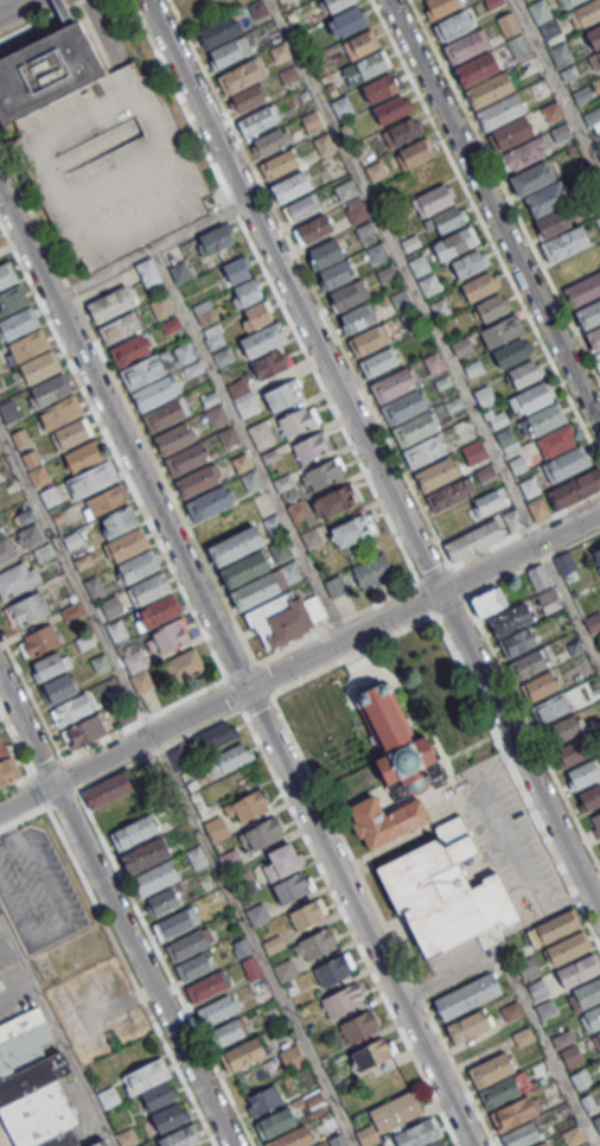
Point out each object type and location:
building: (569, 2)
road: (8, 5)
building: (333, 5)
building: (185, 6)
building: (440, 6)
road: (15, 7)
building: (540, 11)
building: (585, 13)
road: (40, 20)
building: (347, 20)
building: (454, 24)
building: (509, 24)
building: (549, 27)
building: (594, 36)
building: (360, 43)
building: (518, 44)
building: (465, 46)
building: (225, 52)
building: (279, 52)
building: (560, 55)
building: (595, 61)
building: (364, 68)
building: (477, 68)
building: (45, 71)
building: (569, 72)
building: (288, 74)
building: (240, 76)
building: (379, 87)
road: (556, 87)
building: (489, 90)
building: (582, 94)
building: (247, 97)
building: (389, 109)
building: (551, 110)
building: (499, 112)
building: (592, 115)
building: (255, 120)
building: (312, 120)
building: (400, 132)
building: (512, 132)
building: (561, 132)
building: (596, 139)
building: (269, 141)
building: (324, 145)
building: (413, 152)
building: (279, 164)
building: (425, 177)
building: (531, 177)
building: (289, 186)
building: (345, 189)
road: (505, 190)
building: (548, 198)
building: (432, 200)
building: (301, 206)
building: (357, 212)
road: (493, 215)
building: (447, 218)
building: (551, 221)
building: (598, 221)
building: (312, 229)
road: (485, 231)
building: (215, 238)
building: (409, 242)
building: (453, 243)
building: (564, 243)
road: (148, 250)
building: (377, 252)
building: (325, 253)
building: (468, 262)
building: (419, 265)
building: (237, 269)
road: (403, 270)
building: (148, 272)
building: (179, 272)
building: (336, 273)
building: (385, 273)
building: (6, 274)
road: (311, 282)
building: (428, 285)
building: (478, 286)
building: (583, 289)
road: (273, 291)
building: (247, 293)
building: (347, 294)
building: (12, 299)
building: (401, 299)
building: (110, 304)
building: (161, 306)
building: (493, 307)
building: (589, 312)
building: (256, 314)
building: (206, 316)
building: (358, 317)
building: (18, 323)
building: (170, 324)
building: (120, 327)
building: (502, 331)
building: (594, 338)
building: (213, 339)
building: (263, 339)
building: (368, 339)
building: (27, 345)
building: (461, 346)
building: (130, 349)
building: (512, 351)
building: (223, 355)
building: (379, 361)
building: (596, 361)
building: (434, 362)
building: (267, 364)
building: (38, 367)
building: (473, 368)
building: (142, 371)
building: (526, 373)
building: (391, 384)
building: (237, 387)
building: (50, 390)
building: (153, 393)
building: (282, 394)
building: (484, 395)
building: (531, 397)
road: (128, 405)
building: (247, 405)
building: (402, 407)
building: (8, 409)
building: (60, 412)
building: (164, 415)
building: (215, 415)
building: (497, 418)
building: (545, 418)
building: (296, 420)
building: (414, 429)
building: (70, 434)
building: (260, 434)
building: (229, 435)
building: (20, 437)
building: (173, 438)
building: (506, 439)
building: (556, 440)
road: (248, 444)
building: (311, 446)
building: (425, 451)
road: (113, 452)
building: (474, 452)
building: (84, 456)
building: (31, 458)
road: (372, 458)
building: (186, 459)
building: (242, 460)
building: (517, 464)
building: (566, 464)
building: (324, 473)
building: (435, 473)
building: (38, 475)
building: (91, 479)
building: (196, 480)
building: (250, 480)
building: (529, 486)
building: (574, 489)
building: (451, 494)
building: (50, 496)
building: (107, 499)
building: (336, 499)
building: (490, 501)
building: (209, 503)
building: (538, 508)
building: (296, 510)
building: (119, 520)
building: (273, 522)
building: (0, 524)
road: (525, 527)
building: (350, 530)
building: (0, 533)
building: (311, 536)
building: (480, 536)
building: (72, 540)
building: (127, 543)
building: (236, 546)
building: (5, 549)
building: (280, 549)
building: (596, 555)
building: (564, 562)
road: (534, 565)
building: (138, 566)
road: (449, 566)
building: (243, 568)
building: (372, 569)
building: (291, 571)
building: (17, 579)
road: (75, 581)
building: (334, 586)
building: (148, 588)
building: (254, 591)
road: (425, 598)
building: (489, 600)
road: (569, 604)
road: (449, 606)
building: (26, 609)
building: (159, 610)
building: (71, 612)
building: (524, 615)
building: (282, 618)
road: (336, 622)
building: (167, 636)
building: (40, 639)
road: (299, 660)
building: (134, 661)
building: (98, 662)
building: (528, 663)
building: (181, 666)
building: (47, 667)
road: (240, 667)
road: (358, 668)
road: (241, 670)
road: (263, 679)
building: (141, 681)
building: (540, 686)
building: (57, 688)
road: (232, 693)
road: (32, 695)
road: (256, 702)
road: (475, 702)
building: (550, 707)
building: (74, 708)
road: (143, 718)
building: (563, 728)
building: (83, 730)
road: (534, 732)
building: (218, 734)
road: (17, 740)
building: (396, 743)
building: (2, 749)
building: (573, 751)
building: (177, 757)
building: (229, 758)
road: (47, 768)
building: (8, 771)
building: (582, 773)
road: (17, 782)
building: (109, 790)
building: (589, 797)
building: (245, 806)
building: (382, 819)
building: (595, 823)
building: (134, 832)
building: (261, 833)
road: (308, 847)
building: (145, 855)
building: (197, 857)
building: (230, 860)
building: (279, 861)
flagpole: (365, 865)
road: (516, 867)
building: (154, 877)
building: (292, 886)
building: (442, 890)
building: (164, 902)
road: (116, 908)
building: (307, 913)
road: (383, 921)
building: (177, 922)
road: (391, 922)
building: (556, 925)
road: (253, 940)
building: (318, 942)
building: (190, 943)
building: (568, 948)
road: (120, 951)
road: (160, 951)
building: (192, 967)
building: (333, 968)
building: (577, 969)
building: (206, 986)
building: (588, 992)
building: (466, 995)
road: (523, 998)
building: (340, 1000)
building: (545, 1008)
building: (216, 1010)
building: (511, 1011)
building: (593, 1017)
building: (358, 1025)
building: (470, 1025)
building: (228, 1031)
road: (56, 1032)
building: (523, 1036)
building: (598, 1036)
building: (562, 1038)
building: (372, 1052)
building: (243, 1053)
building: (570, 1055)
building: (292, 1057)
building: (491, 1069)
building: (146, 1075)
building: (256, 1075)
building: (580, 1078)
building: (33, 1084)
building: (502, 1090)
building: (159, 1095)
building: (263, 1100)
building: (395, 1110)
building: (513, 1113)
building: (170, 1116)
building: (275, 1122)
building: (596, 1122)
building: (417, 1133)
road: (5, 1134)
building: (366, 1134)
building: (522, 1134)
building: (572, 1135)
building: (181, 1137)
building: (292, 1138)
building: (338, 1140)
building: (100, 1142)
building: (441, 1142)
building: (540, 1144)
building: (383, 1145)

